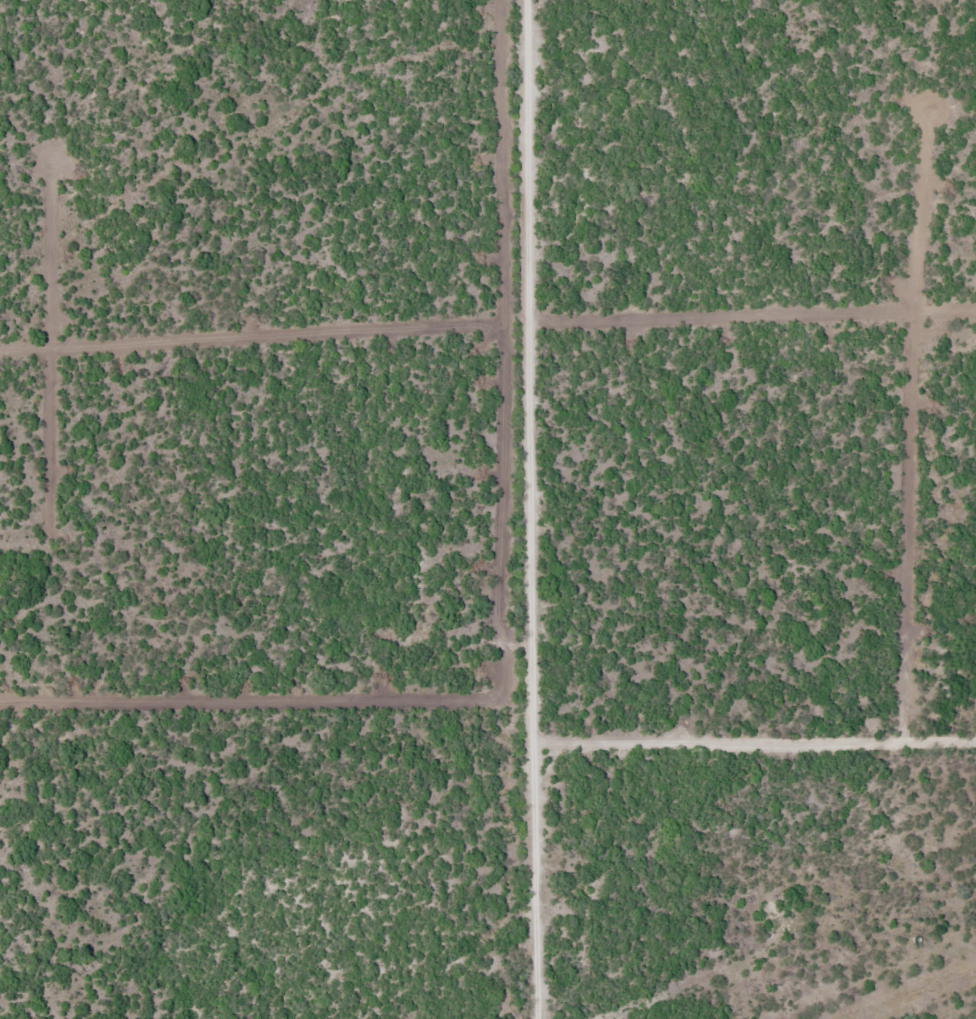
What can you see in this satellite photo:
road: (531, 509)

